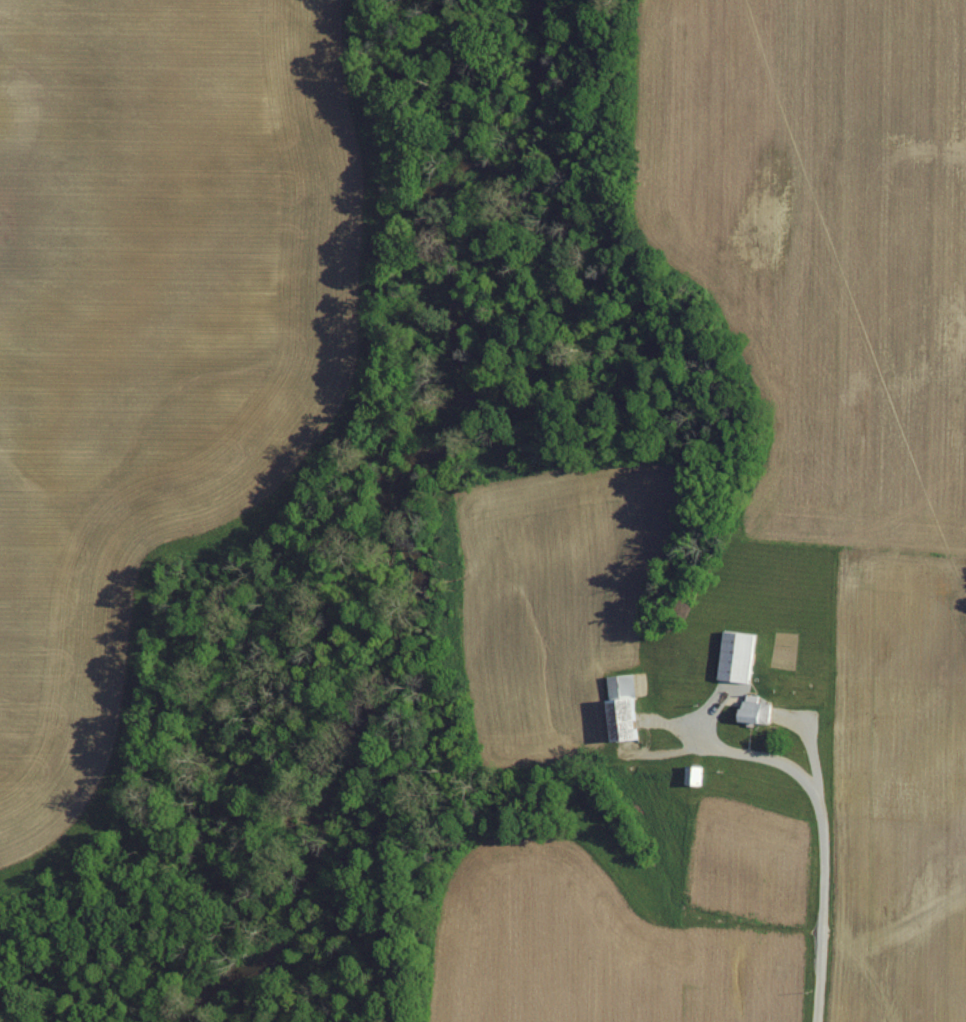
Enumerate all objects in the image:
road: (675, 719)
road: (814, 765)
road: (821, 818)

